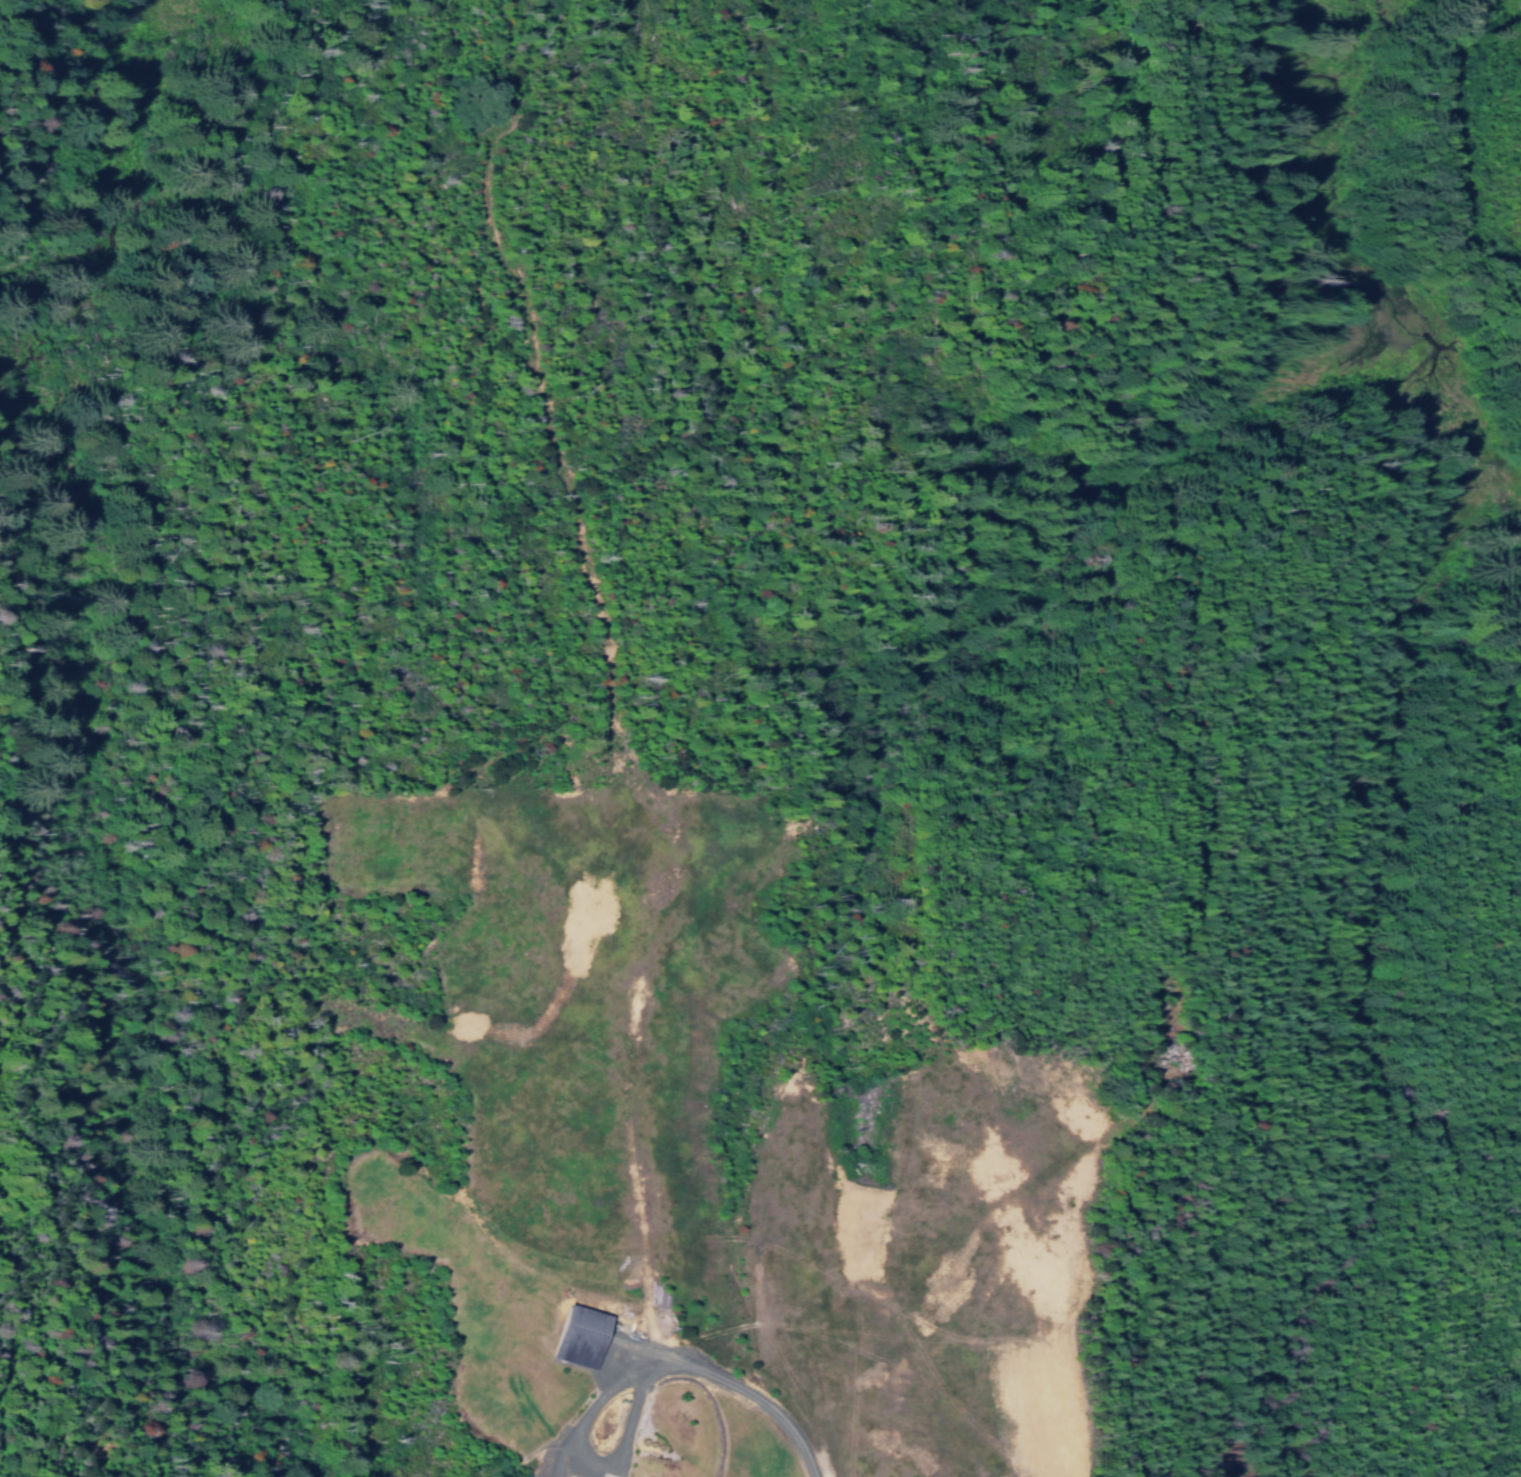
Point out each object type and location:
building: (572, 1336)
road: (752, 1391)
road: (586, 1453)
building: (640, 1475)
building: (601, 1476)

